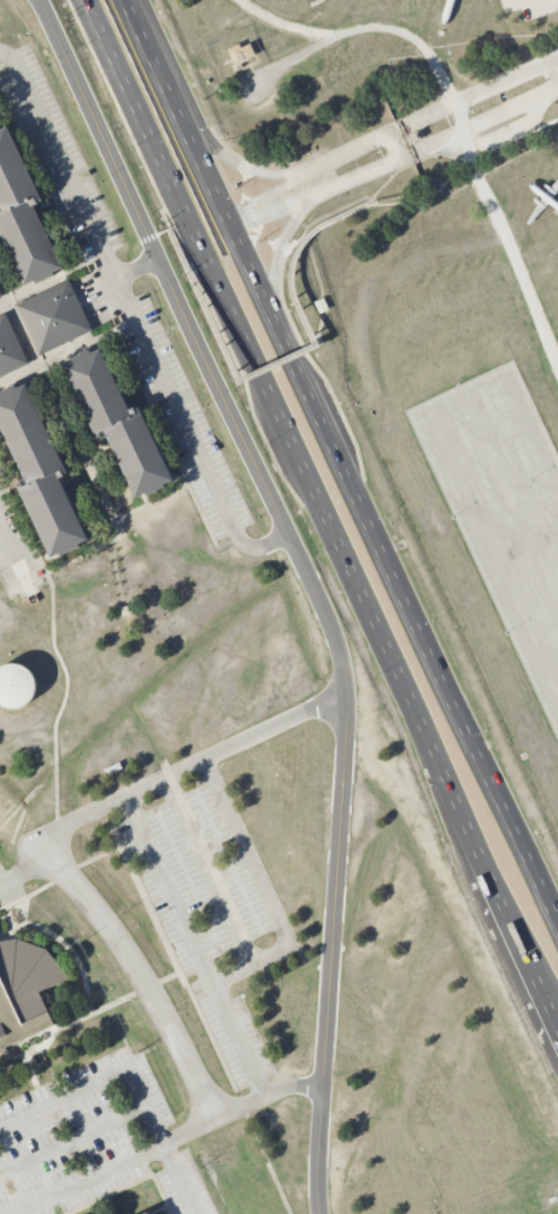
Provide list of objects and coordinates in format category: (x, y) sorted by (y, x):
parking lot: (530, 6)
building: (241, 52)
road: (481, 110)
road: (204, 167)
road: (164, 179)
road: (442, 187)
road: (305, 188)
building: (22, 217)
road: (158, 234)
road: (136, 269)
building: (53, 317)
road: (131, 317)
building: (10, 348)
road: (288, 350)
road: (286, 359)
road: (252, 371)
building: (117, 423)
road: (481, 424)
building: (40, 471)
parking lot: (503, 508)
road: (487, 537)
road: (98, 547)
road: (10, 553)
road: (310, 579)
road: (372, 627)
road: (427, 644)
road: (74, 886)
road: (169, 888)
road: (516, 942)
road: (284, 947)
road: (552, 1019)
building: (17, 1021)
road: (99, 1080)
road: (189, 1131)
road: (86, 1178)
road: (178, 1178)
building: (145, 1213)
building: (148, 1213)

